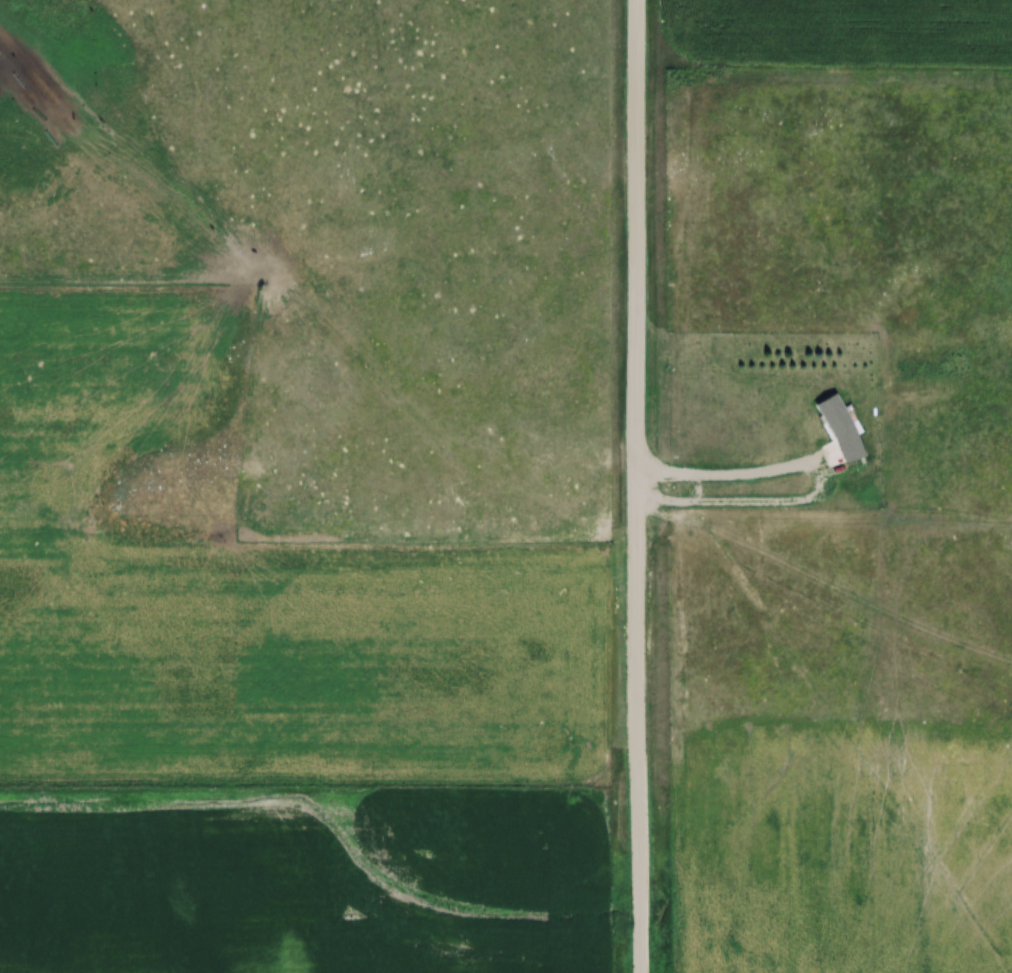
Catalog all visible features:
building: (832, 414)
road: (641, 486)

